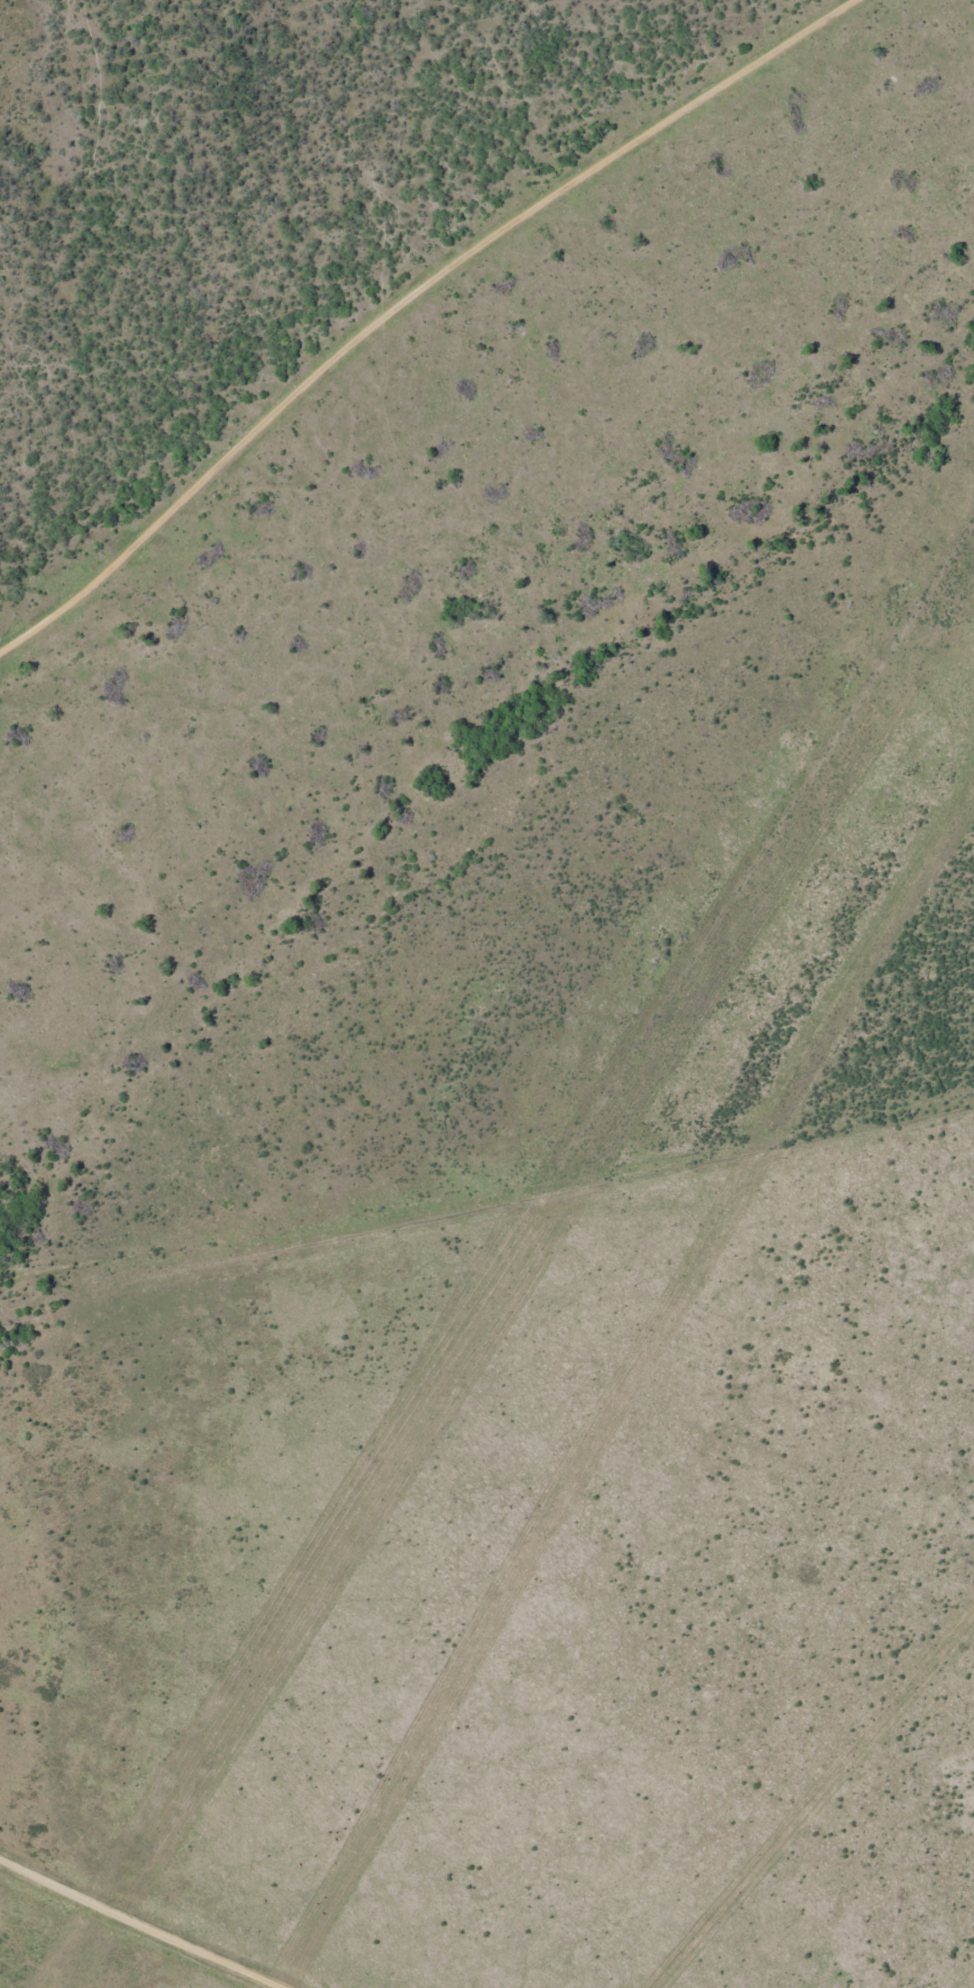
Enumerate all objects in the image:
road: (407, 299)
road: (137, 1925)

